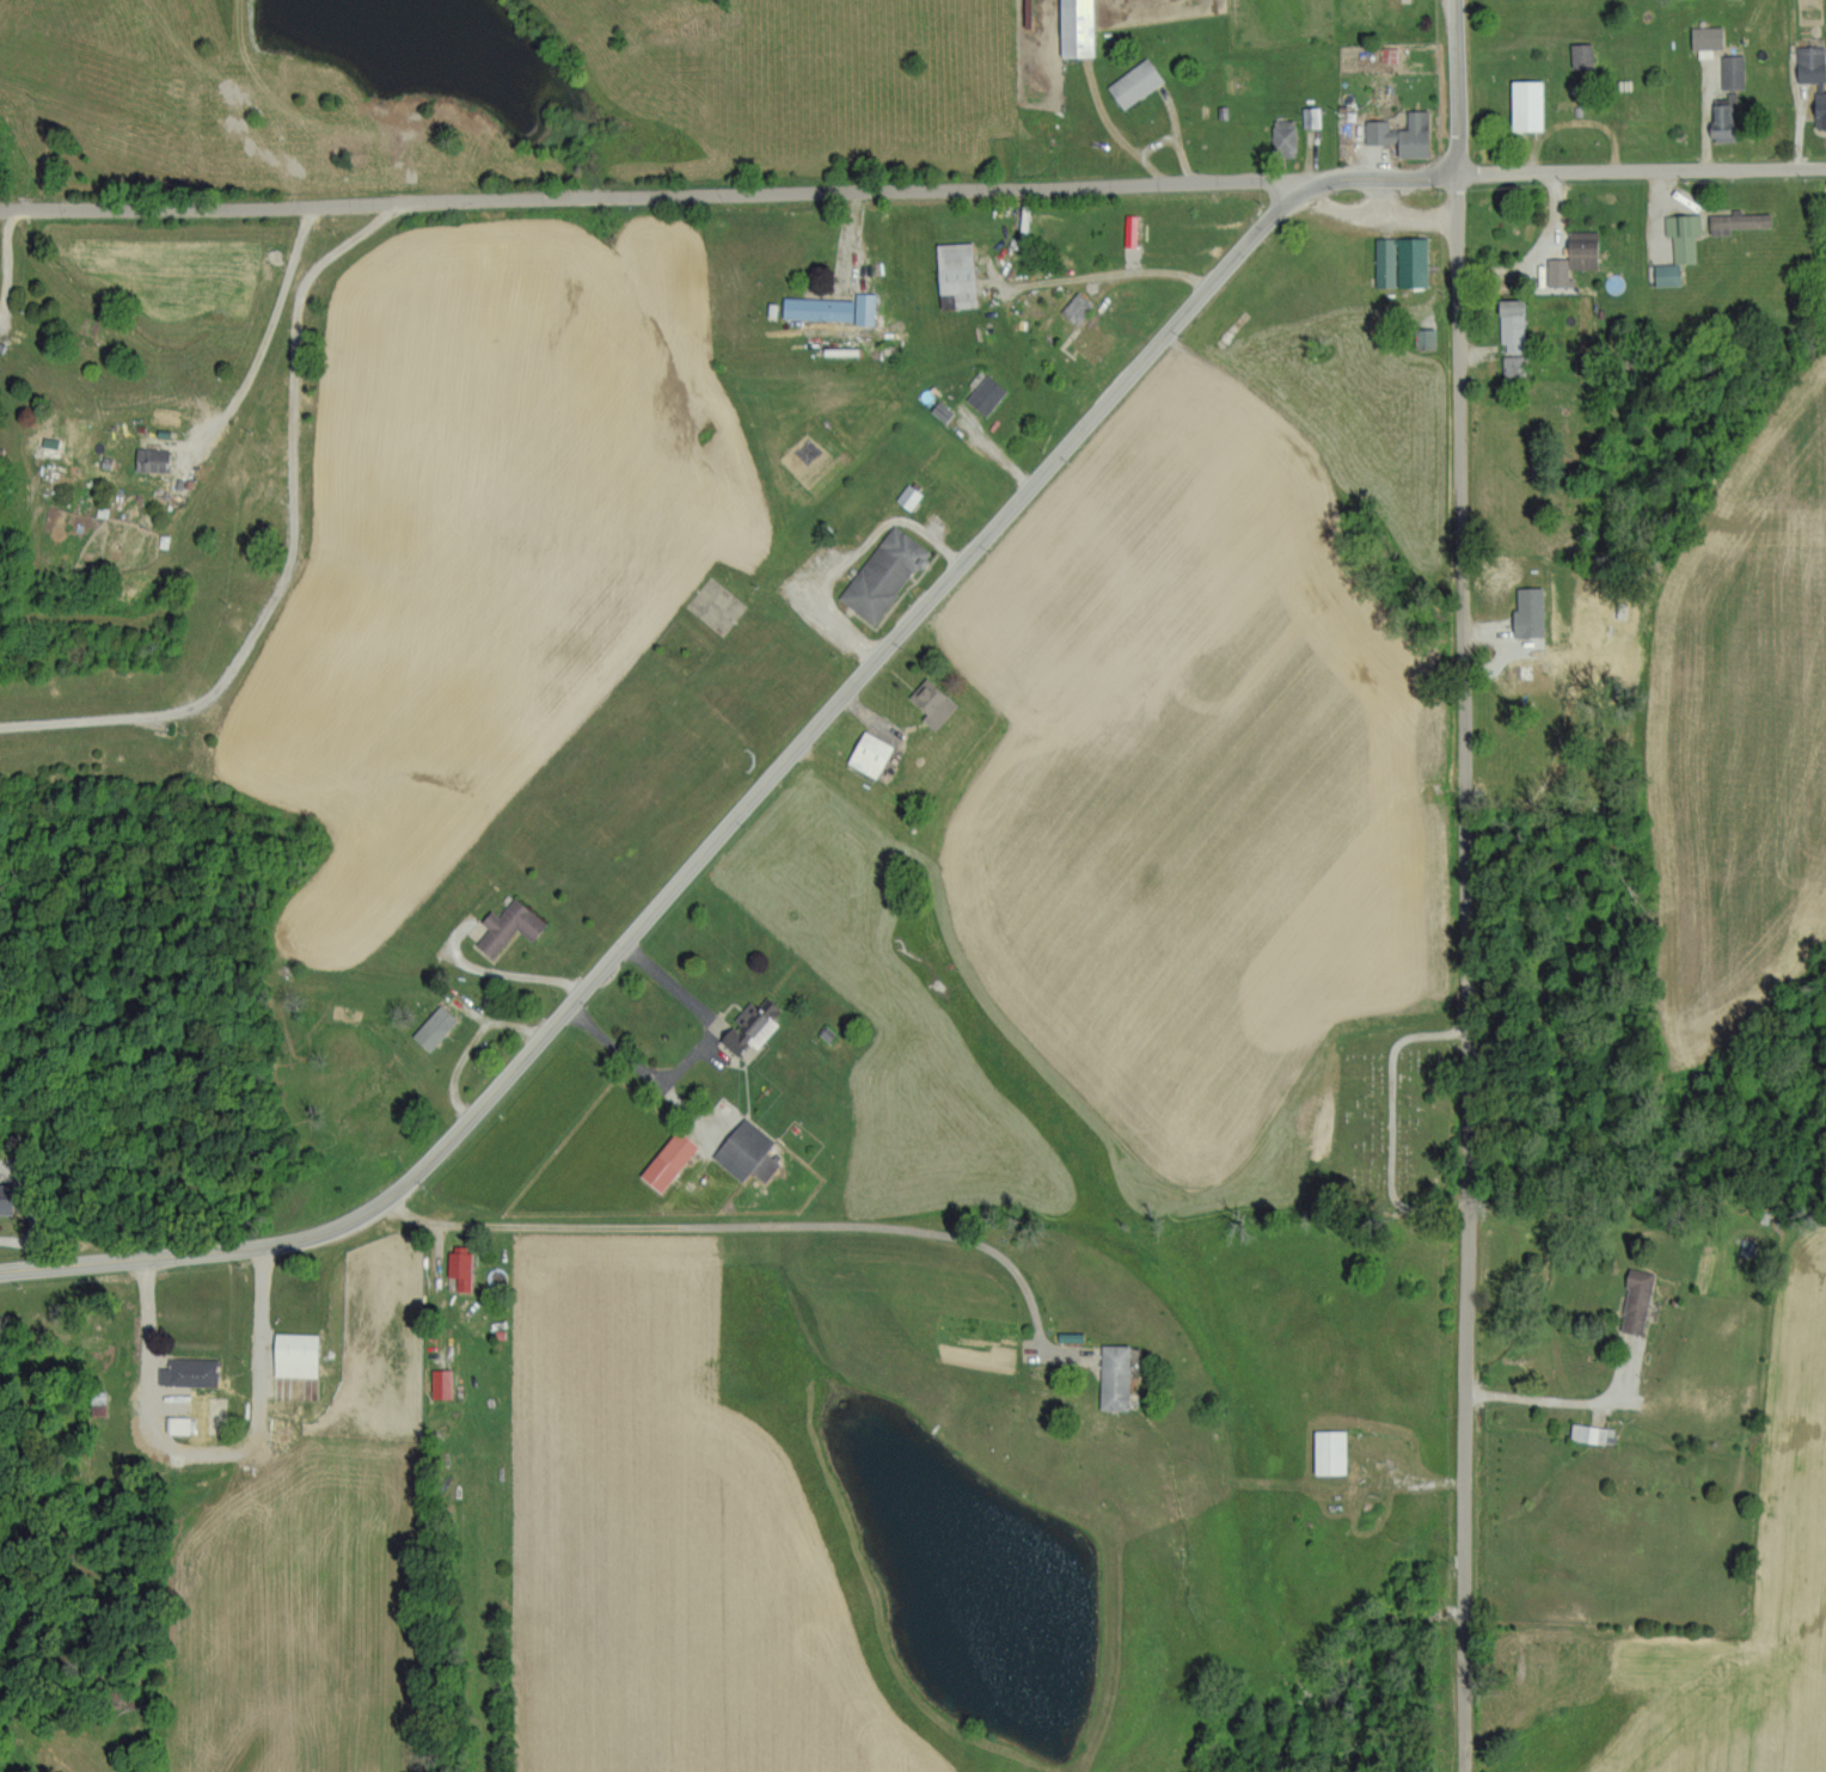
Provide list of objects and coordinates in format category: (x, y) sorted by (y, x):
building: (1079, 27)
building: (1708, 39)
building: (1389, 54)
building: (1582, 55)
building: (1733, 72)
building: (1814, 76)
building: (1136, 82)
road: (1458, 88)
building: (1530, 105)
building: (1311, 117)
building: (1723, 121)
building: (1404, 134)
building: (1285, 135)
road: (1120, 141)
road: (1642, 172)
road: (1381, 178)
road: (651, 196)
building: (1740, 221)
building: (1132, 229)
building: (1679, 246)
building: (1575, 257)
building: (1402, 262)
building: (958, 272)
road: (1126, 283)
building: (1077, 307)
building: (831, 308)
building: (1514, 325)
road: (269, 337)
building: (1428, 339)
building: (1513, 366)
building: (987, 394)
building: (153, 459)
building: (909, 496)
road: (294, 544)
building: (886, 574)
building: (1531, 612)
building: (935, 703)
building: (871, 754)
road: (716, 842)
building: (510, 925)
road: (1464, 974)
road: (502, 976)
building: (754, 1024)
building: (436, 1026)
road: (626, 1053)
park: (1397, 1122)
building: (748, 1152)
building: (672, 1159)
building: (7, 1198)
road: (756, 1225)
building: (461, 1265)
building: (1637, 1300)
road: (148, 1325)
building: (298, 1354)
building: (189, 1372)
building: (1116, 1376)
building: (442, 1382)
road: (1563, 1397)
building: (178, 1424)
building: (1592, 1433)
building: (1331, 1451)

